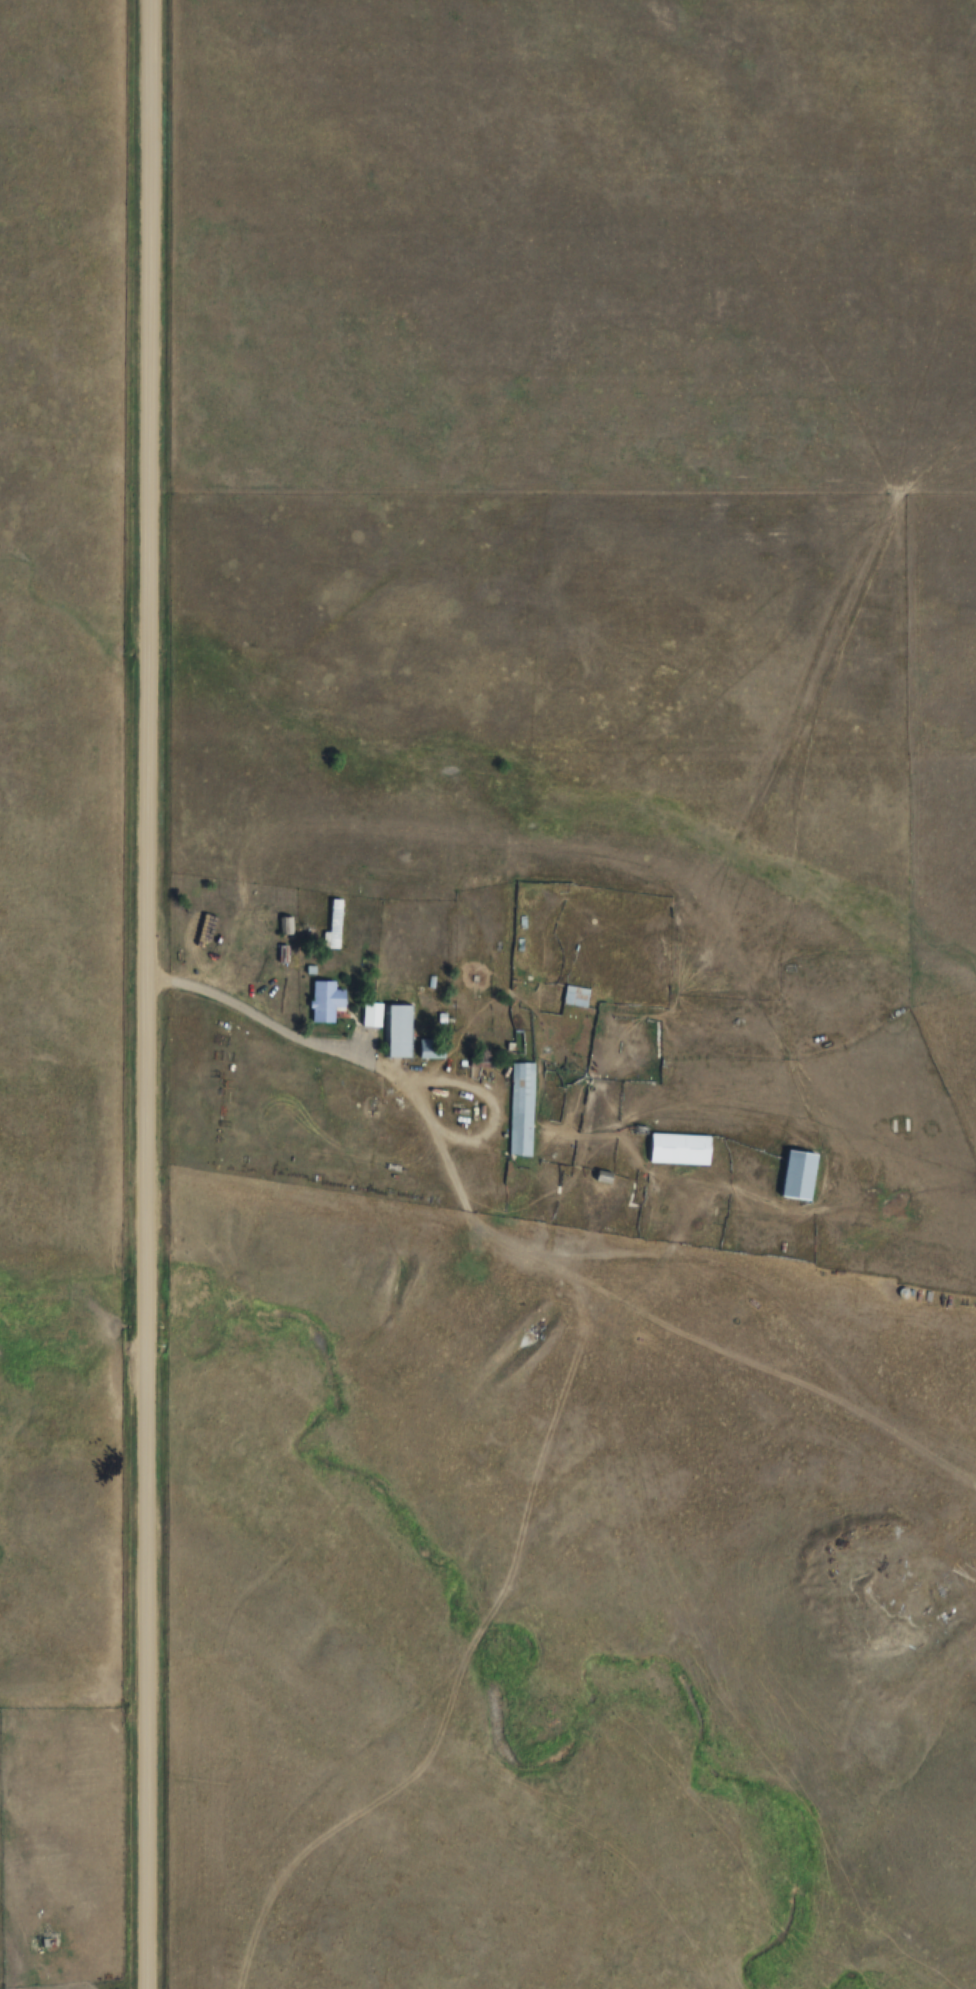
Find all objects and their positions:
building: (288, 926)
building: (336, 927)
road: (143, 994)
building: (577, 997)
building: (328, 1002)
building: (374, 1016)
building: (401, 1032)
building: (523, 1109)
building: (682, 1150)
building: (801, 1175)

